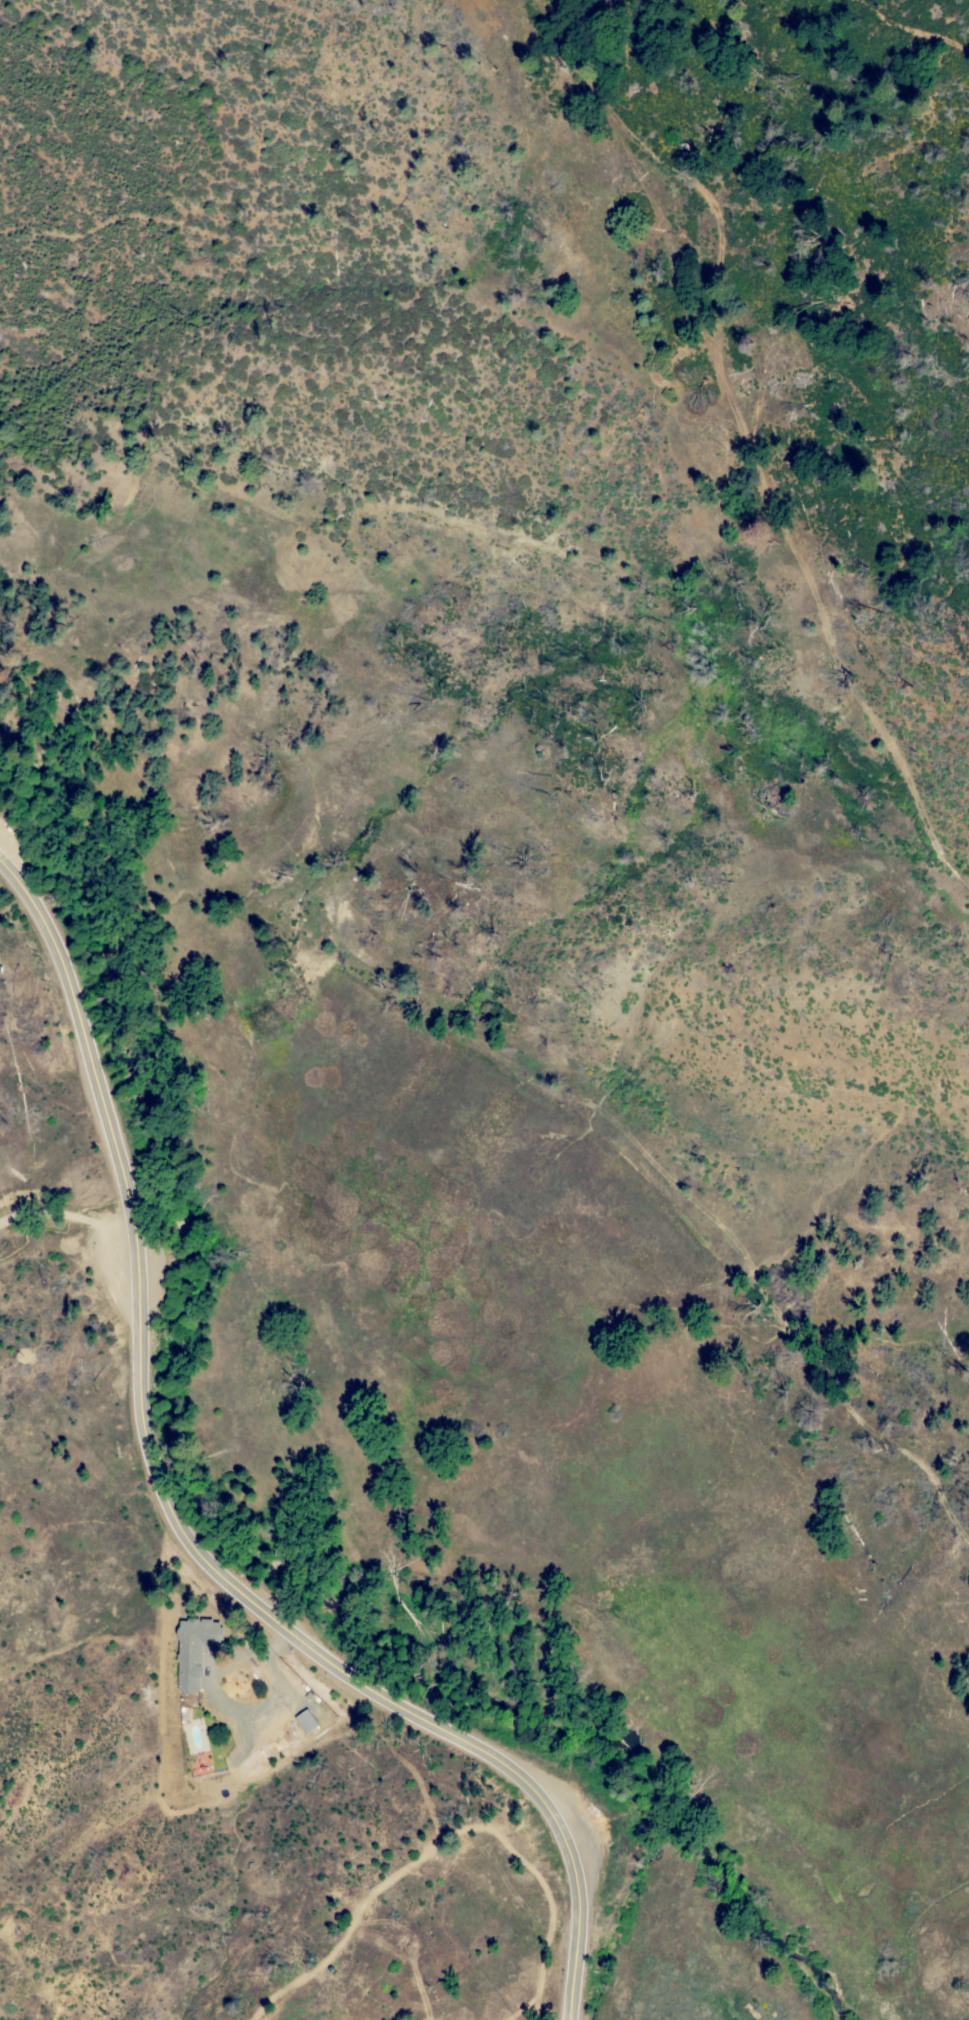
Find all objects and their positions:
road: (908, 26)
road: (741, 453)
road: (66, 1214)
road: (176, 1520)
building: (191, 1650)
road: (214, 1697)
road: (448, 1837)
road: (411, 1947)

